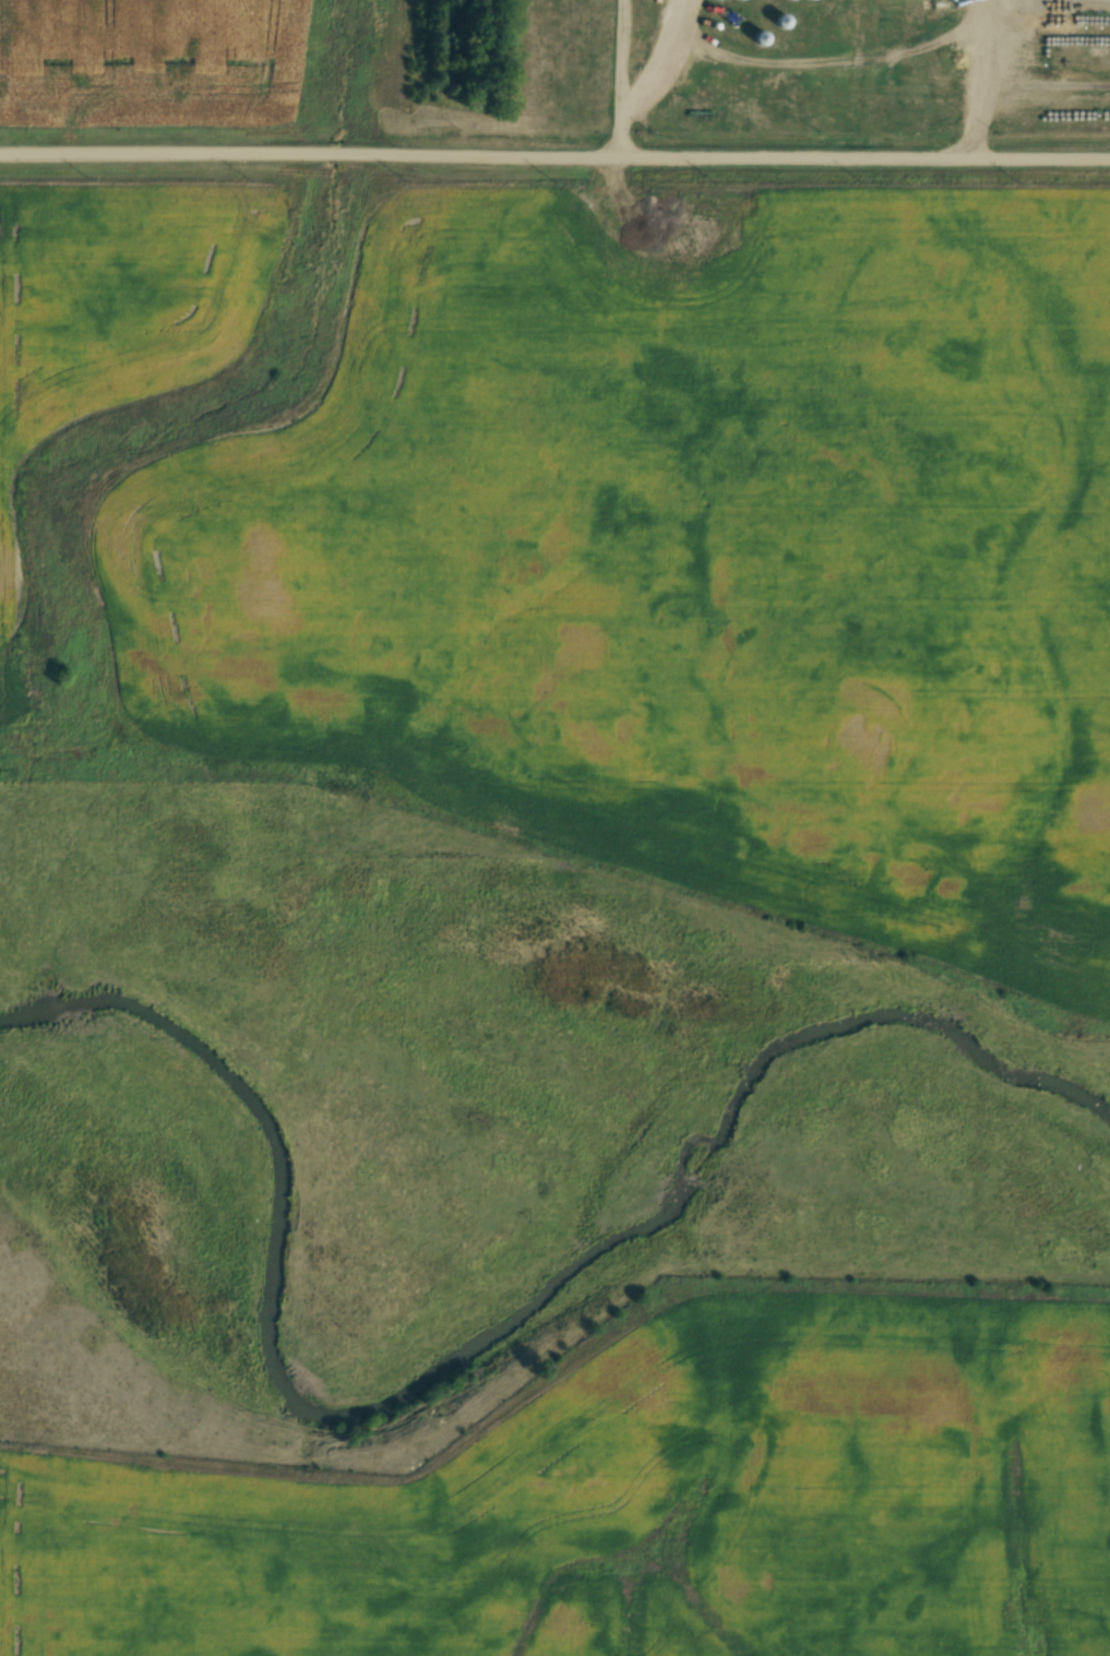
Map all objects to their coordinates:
road: (977, 79)
road: (629, 95)
road: (622, 128)
road: (554, 156)

